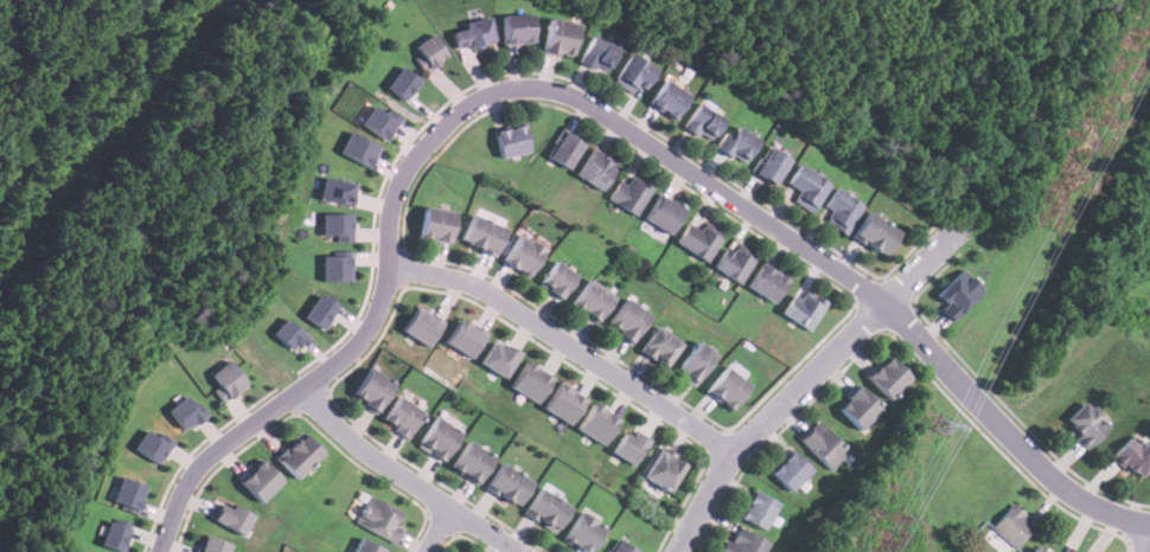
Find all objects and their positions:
building: (516, 30)
building: (471, 34)
building: (558, 38)
building: (429, 51)
building: (598, 56)
building: (632, 73)
building: (403, 83)
building: (667, 100)
road: (592, 104)
building: (381, 121)
building: (703, 123)
building: (511, 141)
building: (735, 145)
building: (358, 148)
building: (564, 152)
building: (769, 166)
building: (595, 171)
building: (806, 188)
building: (337, 191)
building: (630, 194)
building: (841, 212)
building: (663, 216)
building: (337, 225)
building: (435, 225)
building: (481, 235)
building: (874, 235)
building: (696, 242)
building: (522, 256)
building: (733, 264)
building: (336, 267)
building: (556, 281)
building: (766, 284)
building: (958, 295)
building: (590, 301)
building: (803, 309)
building: (320, 310)
building: (626, 321)
building: (422, 327)
building: (288, 334)
building: (464, 338)
road: (569, 344)
building: (659, 347)
building: (499, 358)
building: (694, 362)
road: (816, 371)
building: (887, 377)
building: (226, 380)
building: (531, 381)
building: (726, 387)
building: (371, 390)
building: (564, 403)
building: (857, 407)
building: (185, 411)
building: (401, 416)
building: (598, 423)
building: (1086, 423)
power tower: (941, 426)
building: (437, 438)
building: (152, 444)
building: (824, 444)
building: (630, 447)
building: (299, 455)
building: (1133, 456)
building: (471, 461)
building: (664, 469)
building: (790, 469)
road: (404, 475)
building: (260, 481)
building: (507, 484)
building: (128, 493)
building: (357, 505)
building: (545, 509)
building: (758, 511)
building: (230, 516)
building: (378, 518)
building: (1011, 526)
road: (439, 529)
building: (581, 532)
building: (114, 535)
road: (1145, 537)
building: (745, 541)
building: (211, 544)
building: (364, 546)
building: (620, 547)
building: (1039, 548)

